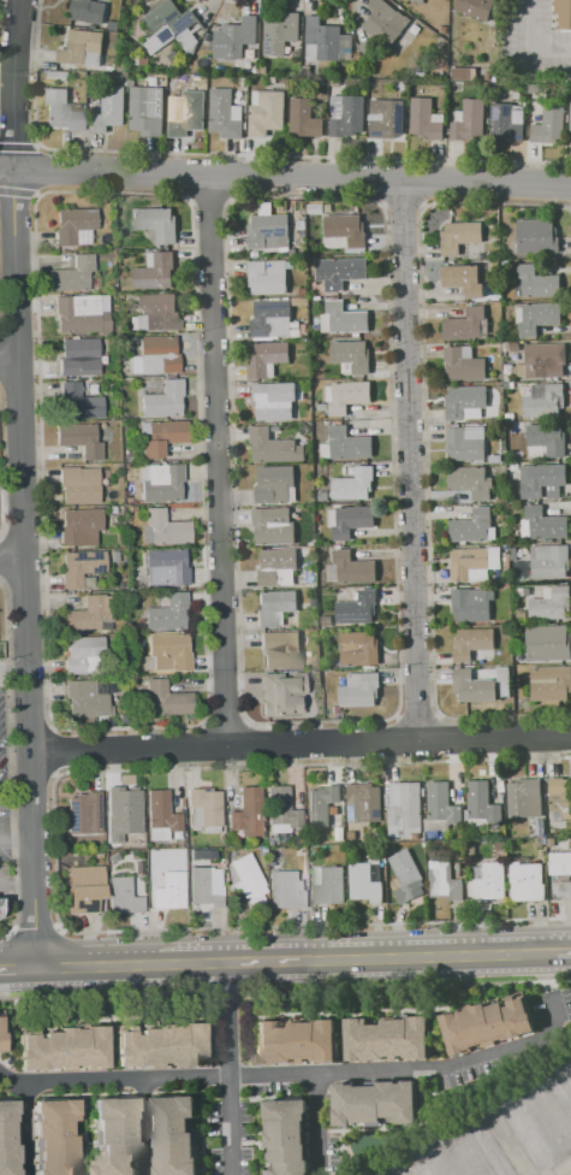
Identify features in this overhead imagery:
building: (417, 1)
building: (475, 7)
building: (88, 11)
building: (564, 14)
building: (383, 22)
building: (169, 26)
building: (238, 36)
building: (281, 36)
building: (322, 39)
building: (81, 46)
road: (525, 49)
building: (167, 58)
building: (141, 60)
building: (121, 64)
building: (109, 69)
building: (262, 69)
building: (463, 72)
building: (58, 75)
building: (272, 79)
building: (335, 82)
building: (399, 85)
building: (517, 96)
building: (60, 110)
building: (108, 110)
building: (145, 111)
building: (267, 112)
building: (189, 114)
building: (224, 114)
building: (347, 116)
building: (304, 118)
building: (386, 118)
building: (424, 120)
building: (470, 120)
building: (506, 122)
building: (549, 122)
building: (570, 123)
road: (285, 178)
building: (315, 207)
building: (334, 207)
building: (155, 223)
building: (301, 224)
building: (75, 225)
building: (268, 232)
building: (343, 232)
building: (460, 236)
building: (535, 236)
building: (290, 265)
building: (154, 271)
building: (340, 271)
building: (71, 274)
building: (267, 277)
building: (463, 278)
building: (93, 281)
building: (537, 282)
building: (112, 288)
building: (303, 293)
building: (305, 301)
building: (159, 312)
building: (81, 314)
building: (270, 318)
building: (343, 318)
building: (537, 318)
building: (466, 325)
building: (296, 329)
building: (103, 339)
building: (123, 341)
building: (513, 347)
building: (156, 355)
building: (518, 355)
building: (351, 356)
building: (78, 358)
building: (266, 358)
building: (543, 361)
road: (10, 364)
building: (463, 364)
building: (507, 367)
building: (506, 378)
building: (91, 389)
building: (346, 396)
building: (162, 400)
building: (274, 401)
building: (543, 401)
building: (77, 402)
building: (465, 402)
building: (321, 407)
building: (510, 417)
building: (162, 437)
building: (77, 438)
building: (546, 441)
building: (349, 443)
building: (466, 443)
building: (274, 448)
building: (325, 450)
road: (215, 461)
road: (408, 461)
building: (515, 466)
building: (129, 471)
building: (543, 480)
building: (471, 482)
road: (20, 483)
building: (161, 483)
building: (274, 483)
building: (352, 483)
building: (78, 485)
building: (322, 496)
building: (352, 520)
building: (542, 524)
building: (273, 526)
building: (474, 526)
building: (79, 527)
building: (162, 529)
building: (513, 554)
building: (113, 557)
road: (11, 561)
building: (474, 562)
building: (543, 562)
building: (165, 567)
building: (276, 567)
building: (352, 567)
building: (79, 568)
building: (313, 601)
building: (521, 602)
building: (470, 604)
building: (551, 604)
building: (273, 606)
building: (355, 607)
building: (167, 613)
building: (87, 614)
building: (325, 621)
building: (471, 643)
building: (551, 643)
building: (358, 648)
building: (280, 650)
building: (167, 653)
building: (83, 655)
road: (13, 672)
building: (475, 683)
building: (551, 683)
building: (326, 685)
building: (358, 689)
building: (280, 693)
building: (84, 699)
building: (166, 699)
road: (299, 745)
parking lot: (6, 774)
building: (560, 796)
building: (524, 798)
building: (363, 802)
building: (482, 802)
building: (441, 803)
building: (322, 805)
building: (204, 808)
building: (281, 808)
building: (404, 809)
building: (84, 813)
building: (249, 813)
building: (126, 816)
building: (160, 816)
building: (539, 826)
building: (278, 828)
building: (339, 833)
building: (551, 842)
building: (268, 843)
building: (500, 844)
building: (539, 844)
road: (16, 846)
building: (471, 849)
building: (262, 850)
building: (434, 851)
building: (178, 852)
building: (190, 852)
building: (231, 852)
building: (560, 862)
building: (405, 869)
building: (245, 876)
parking lot: (7, 880)
building: (444, 880)
building: (488, 880)
building: (368, 881)
building: (525, 881)
building: (206, 886)
building: (329, 886)
road: (17, 887)
building: (84, 888)
building: (285, 890)
building: (561, 890)
building: (168, 891)
building: (123, 896)
building: (0, 908)
road: (564, 949)
road: (356, 957)
road: (96, 966)
road: (18, 968)
road: (547, 969)
road: (434, 982)
road: (334, 987)
road: (13, 994)
road: (477, 998)
road: (356, 1015)
road: (71, 1018)
road: (108, 1020)
building: (484, 1025)
building: (0, 1039)
building: (387, 1039)
building: (295, 1043)
road: (340, 1044)
building: (159, 1046)
building: (61, 1049)
road: (227, 1068)
road: (299, 1073)
road: (248, 1085)
building: (563, 1086)
road: (159, 1092)
building: (374, 1103)
road: (316, 1123)
road: (143, 1126)
road: (395, 1127)
road: (23, 1128)
building: (533, 1132)
road: (82, 1134)
building: (173, 1134)
road: (256, 1135)
building: (285, 1135)
building: (114, 1136)
road: (201, 1136)
building: (53, 1138)
building: (7, 1139)
park: (377, 1146)
road: (510, 1146)
building: (481, 1151)
road: (341, 1152)
building: (428, 1164)

